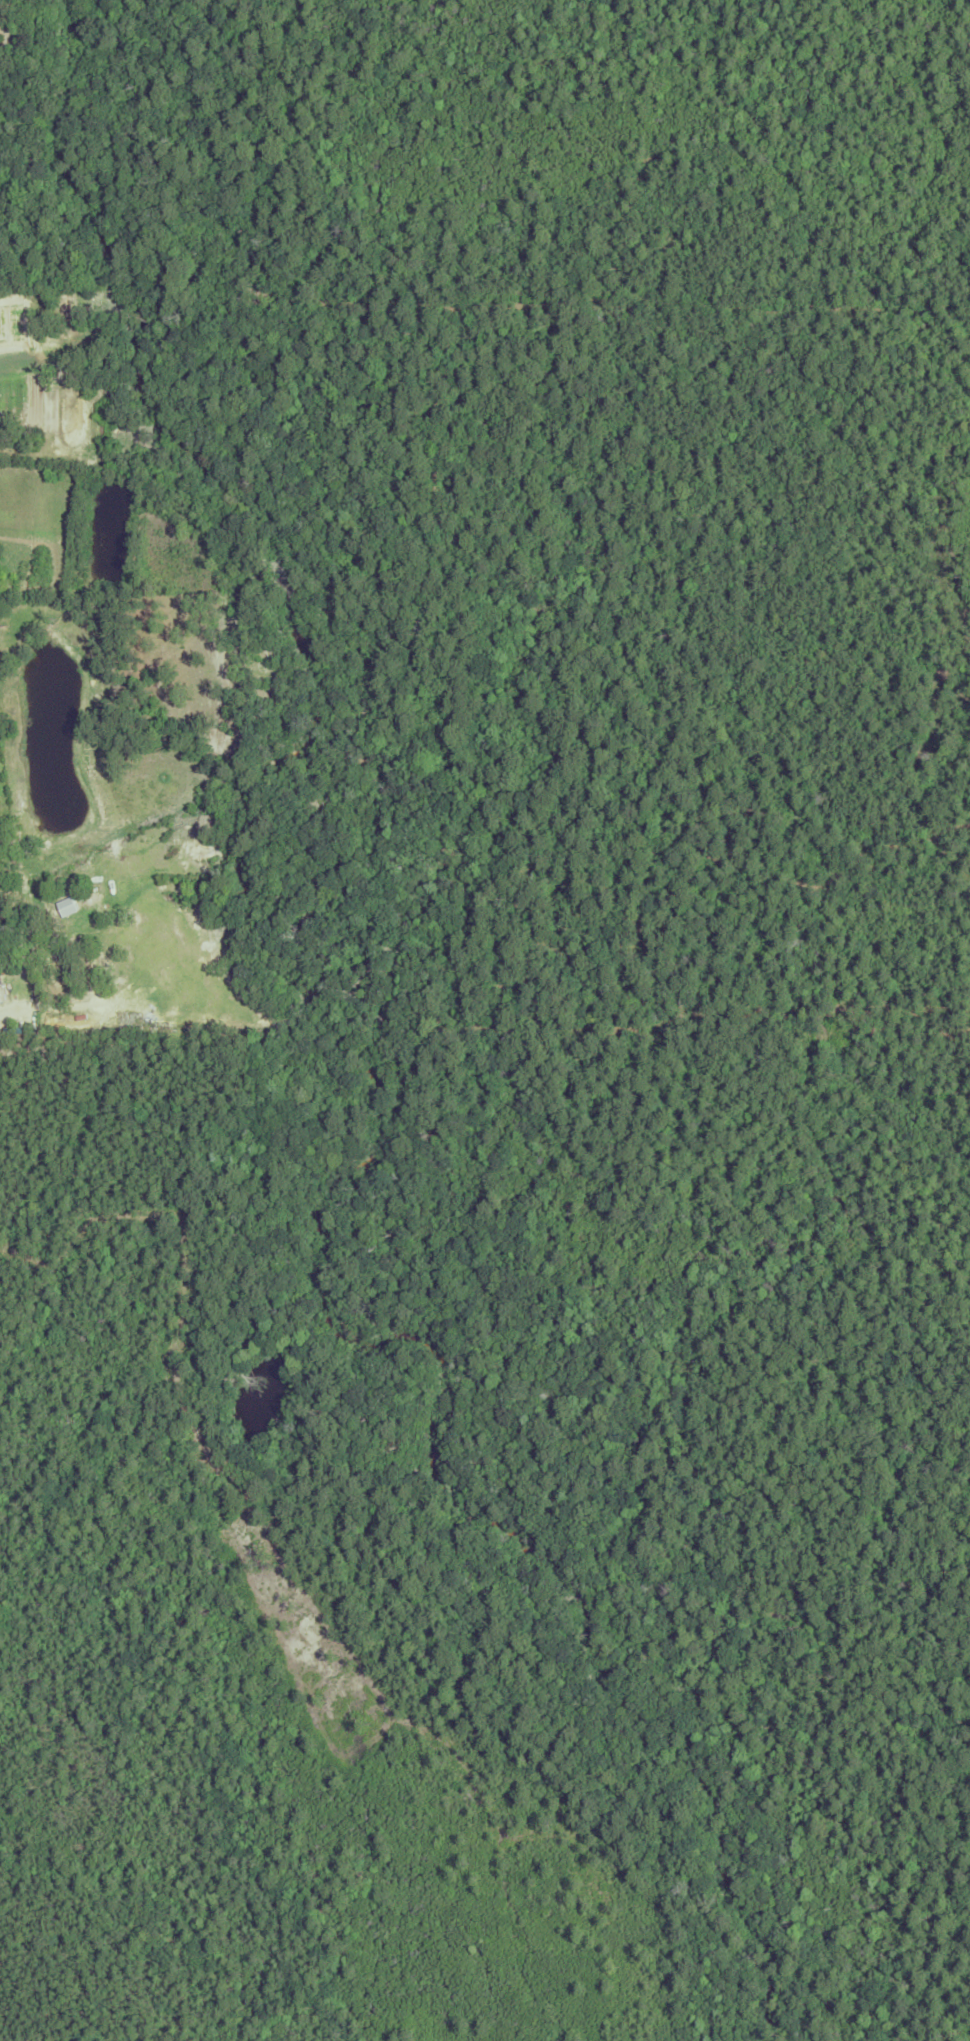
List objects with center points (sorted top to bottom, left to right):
building: (64, 904)
building: (67, 920)
building: (0, 989)

